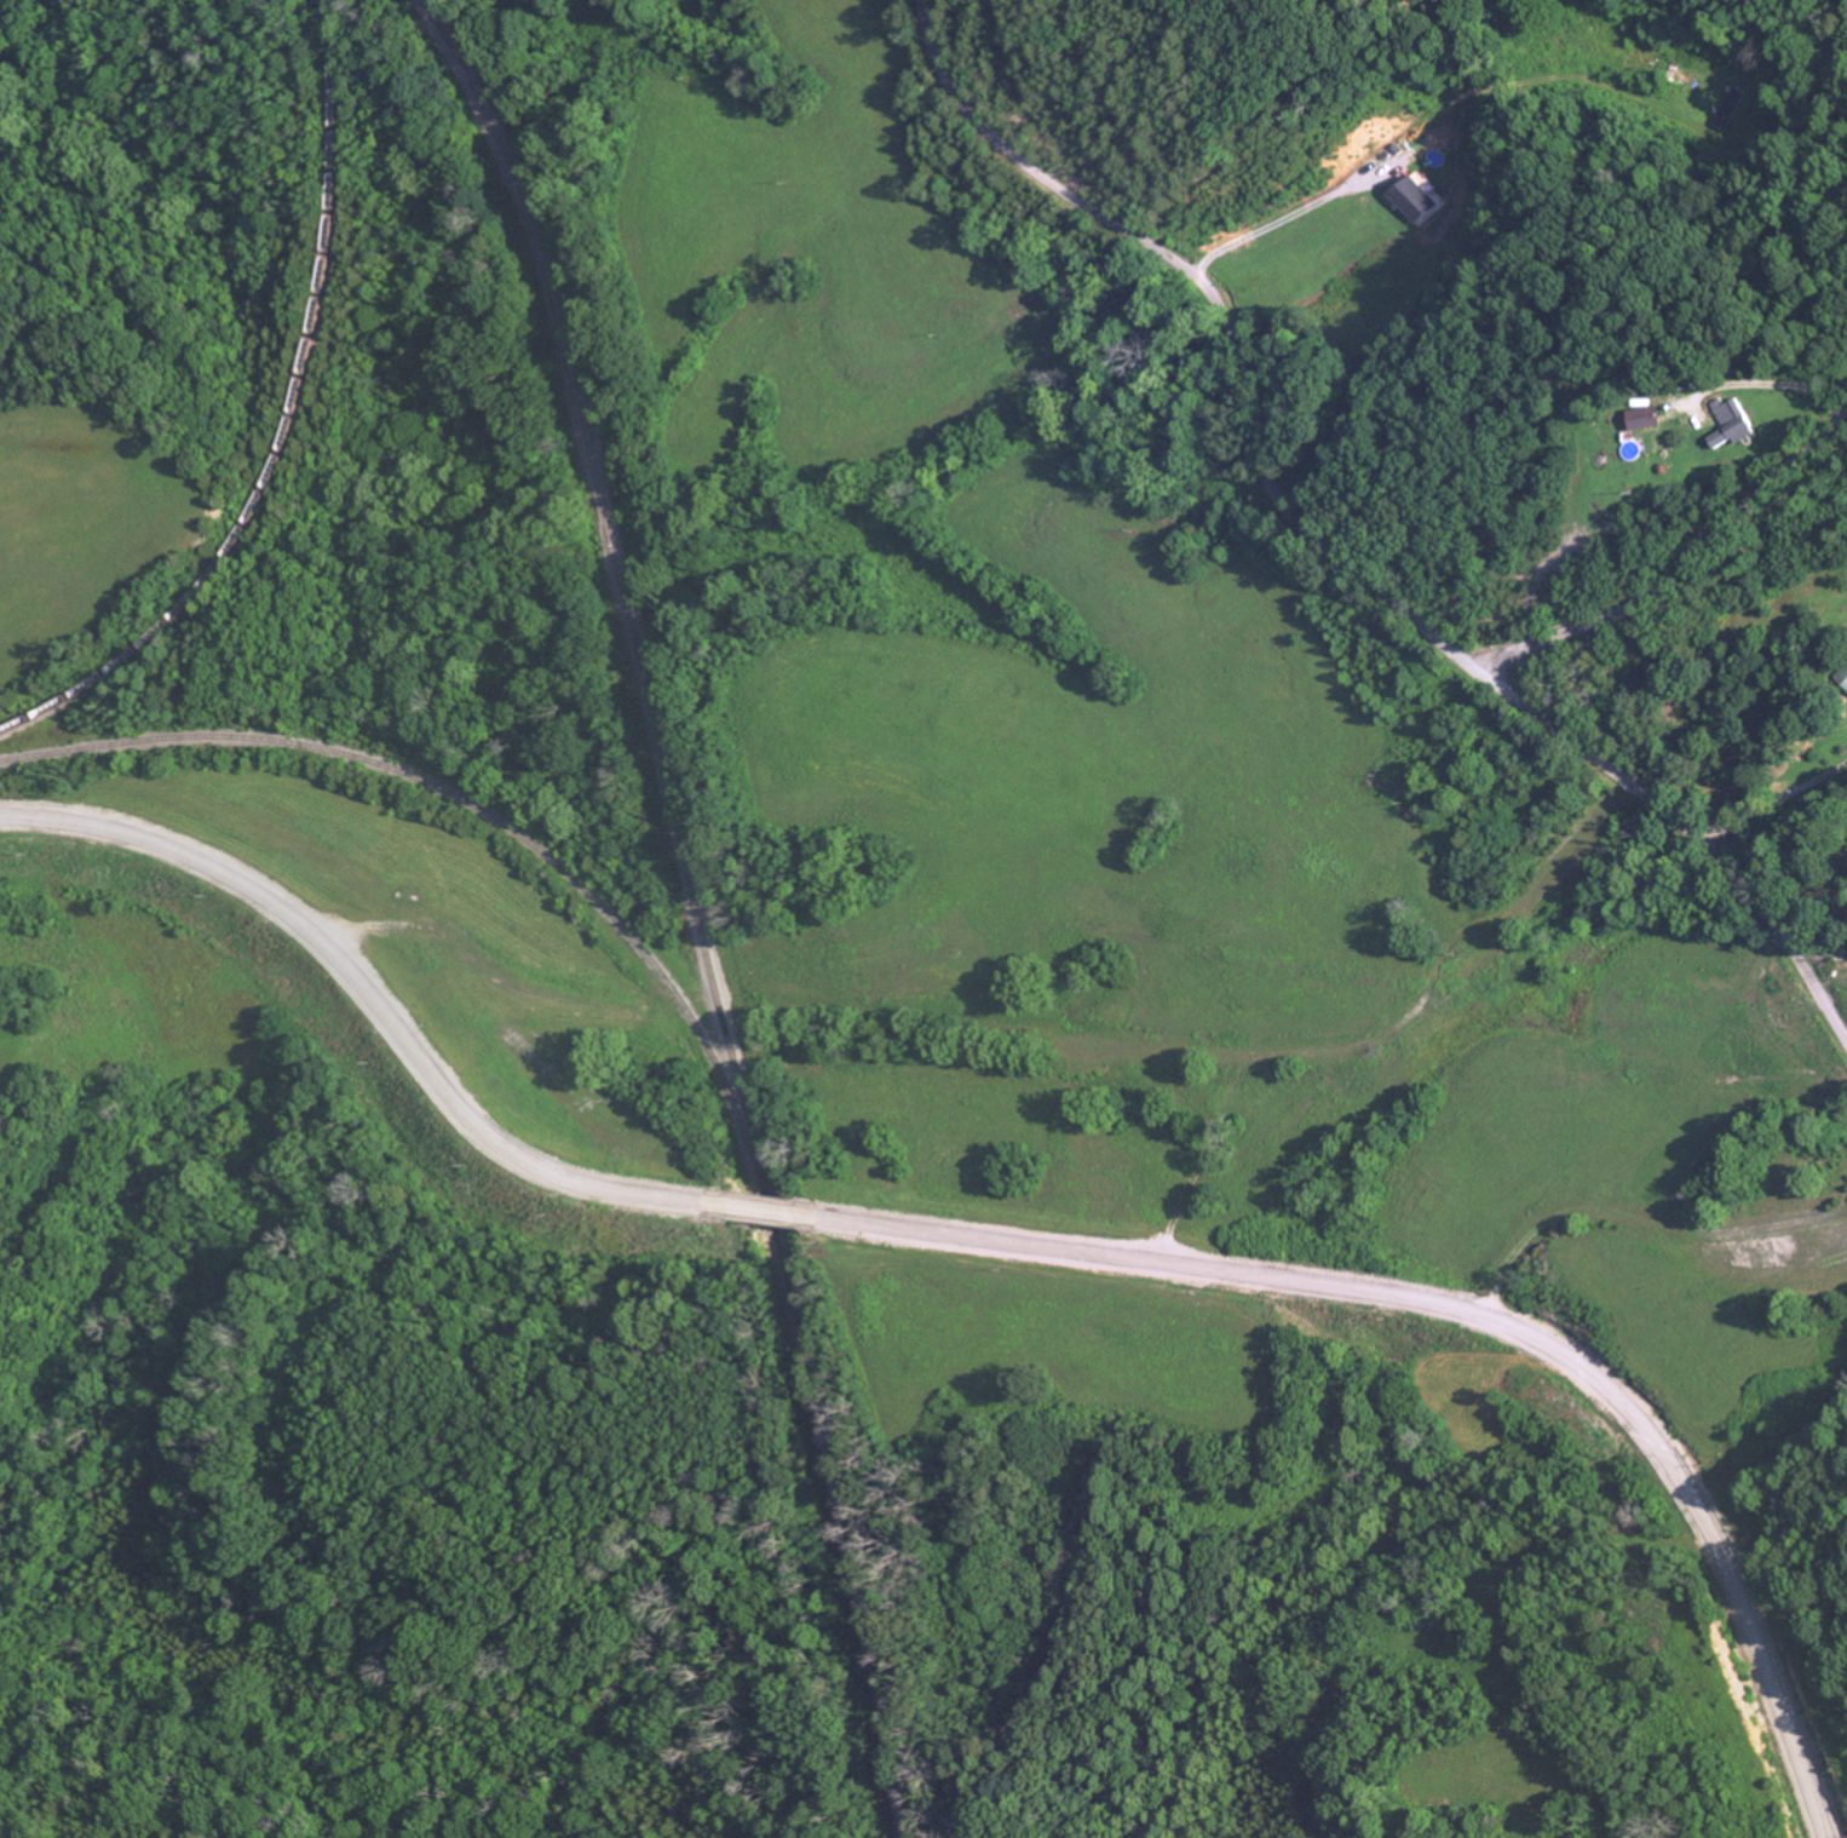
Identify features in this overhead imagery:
building: (1732, 109)
building: (1420, 200)
road: (1273, 223)
building: (1653, 418)
railway: (295, 424)
building: (1739, 424)
road: (1334, 550)
road: (1685, 570)
road: (1772, 799)
railway: (473, 803)
railway: (697, 906)
road: (366, 986)
road: (758, 1205)
road: (1469, 1309)

